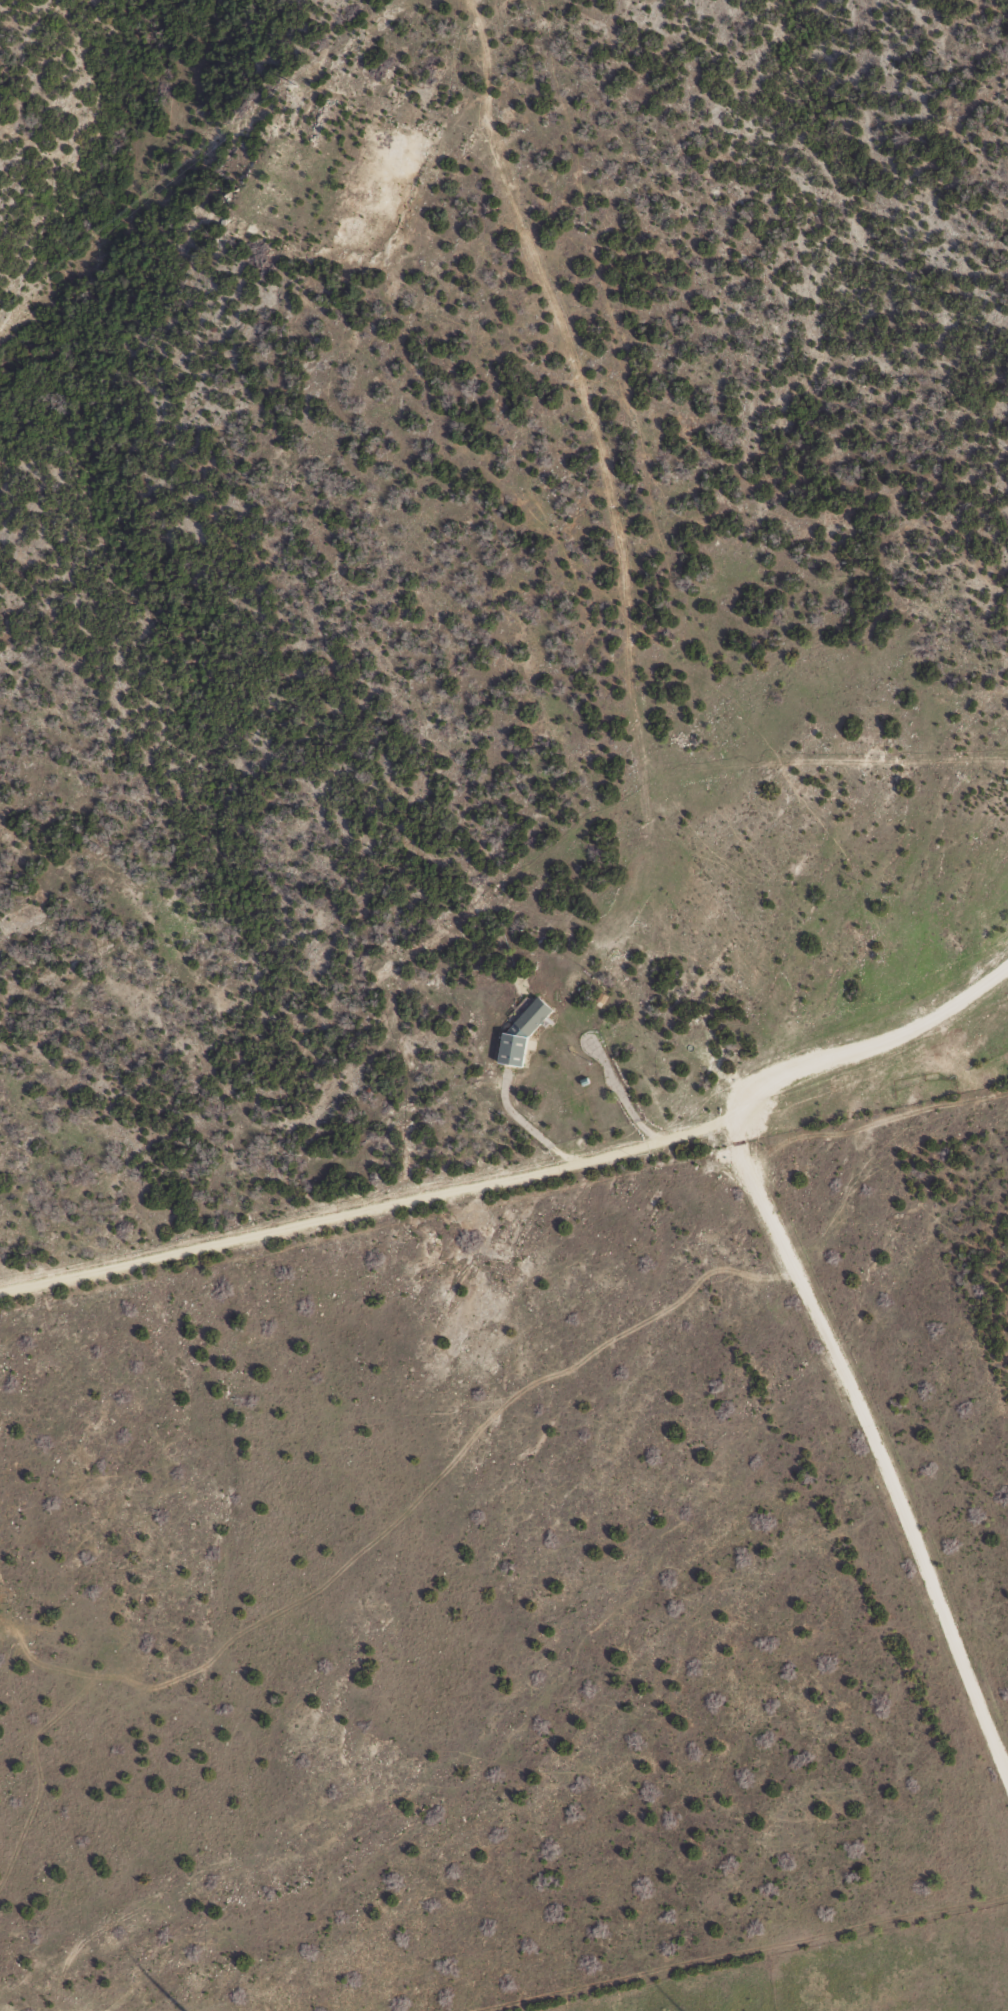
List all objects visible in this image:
power tower: (293, 86)
road: (594, 557)
building: (533, 1015)
road: (524, 1123)
road: (523, 1173)

